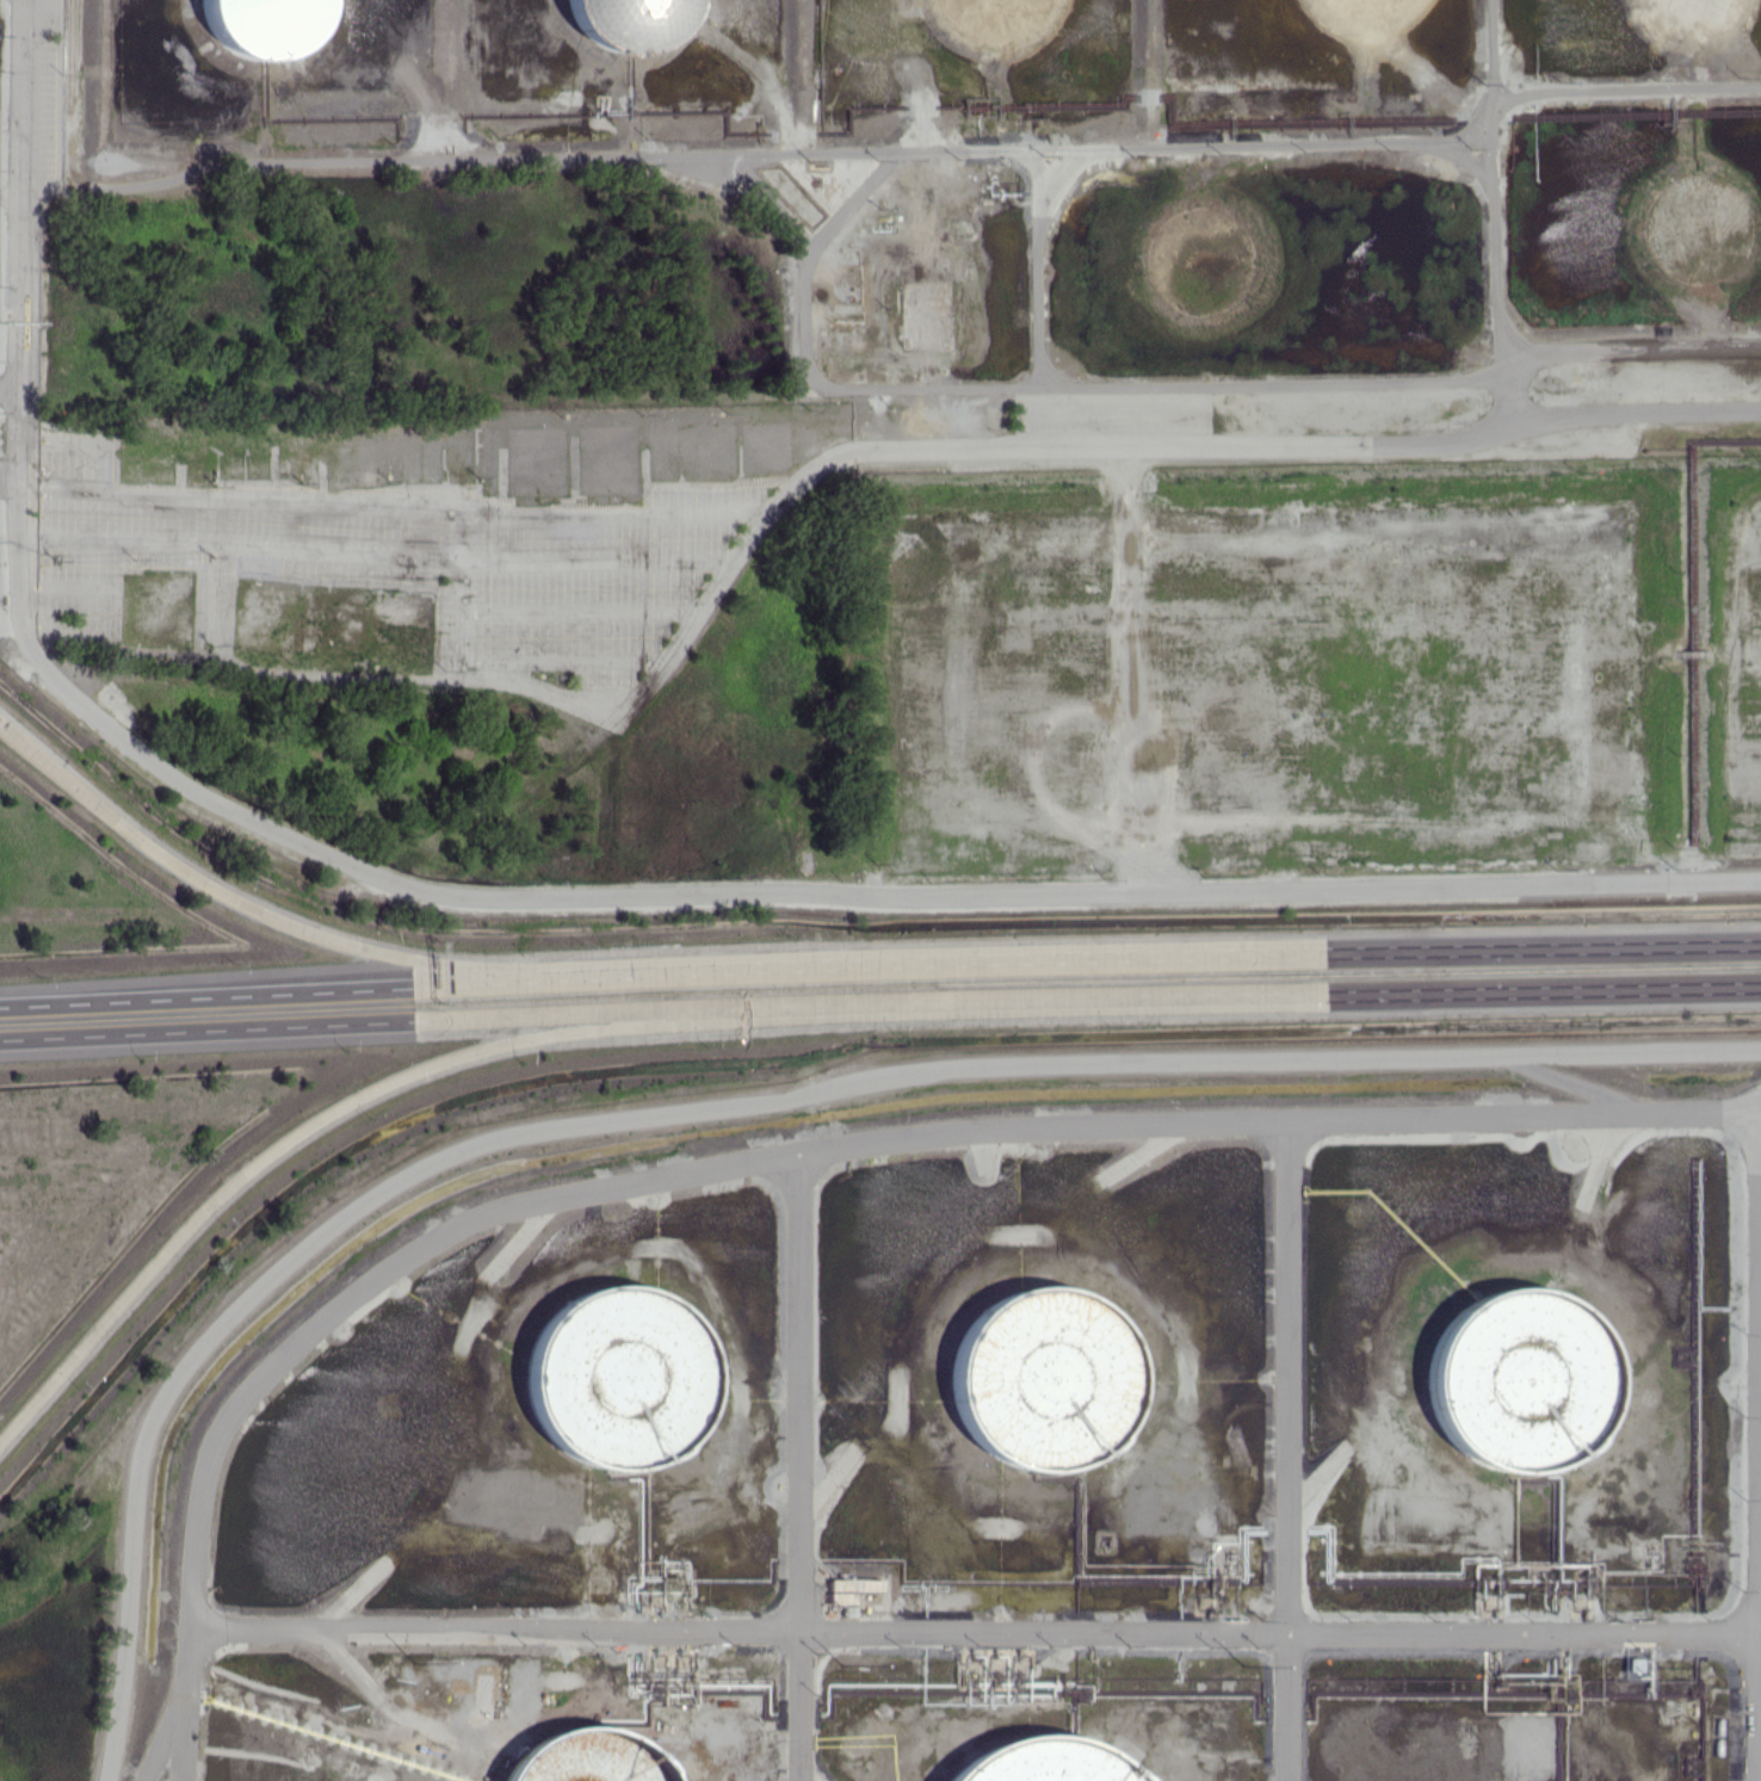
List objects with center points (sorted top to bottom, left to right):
building: (261, 25)
road: (1623, 94)
road: (26, 157)
road: (1489, 191)
road: (13, 192)
road: (21, 358)
road: (1602, 358)
road: (20, 431)
road: (900, 459)
road: (760, 890)
road: (279, 920)
road: (1188, 956)
road: (309, 988)
road: (1232, 996)
road: (352, 1024)
road: (298, 1137)
building: (616, 1377)
building: (1039, 1379)
building: (1515, 1379)
building: (846, 1589)
road: (167, 1702)
building: (1037, 1763)

